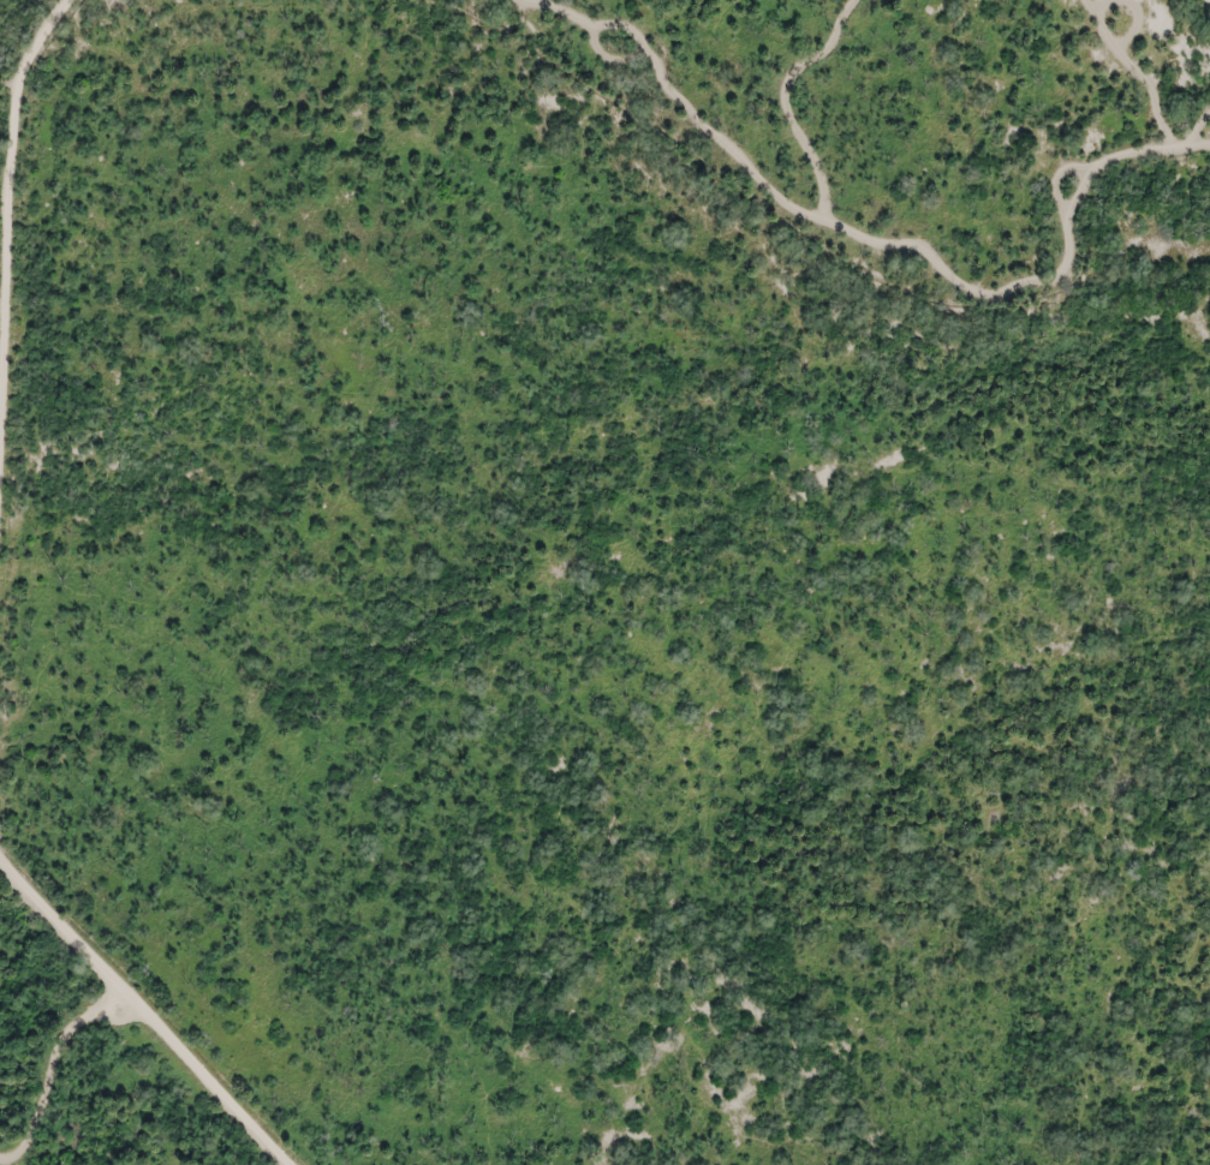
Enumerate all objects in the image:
road: (628, 31)
road: (1134, 70)
road: (789, 101)
road: (1193, 143)
road: (1084, 196)
road: (8, 245)
road: (880, 246)
road: (145, 1011)

